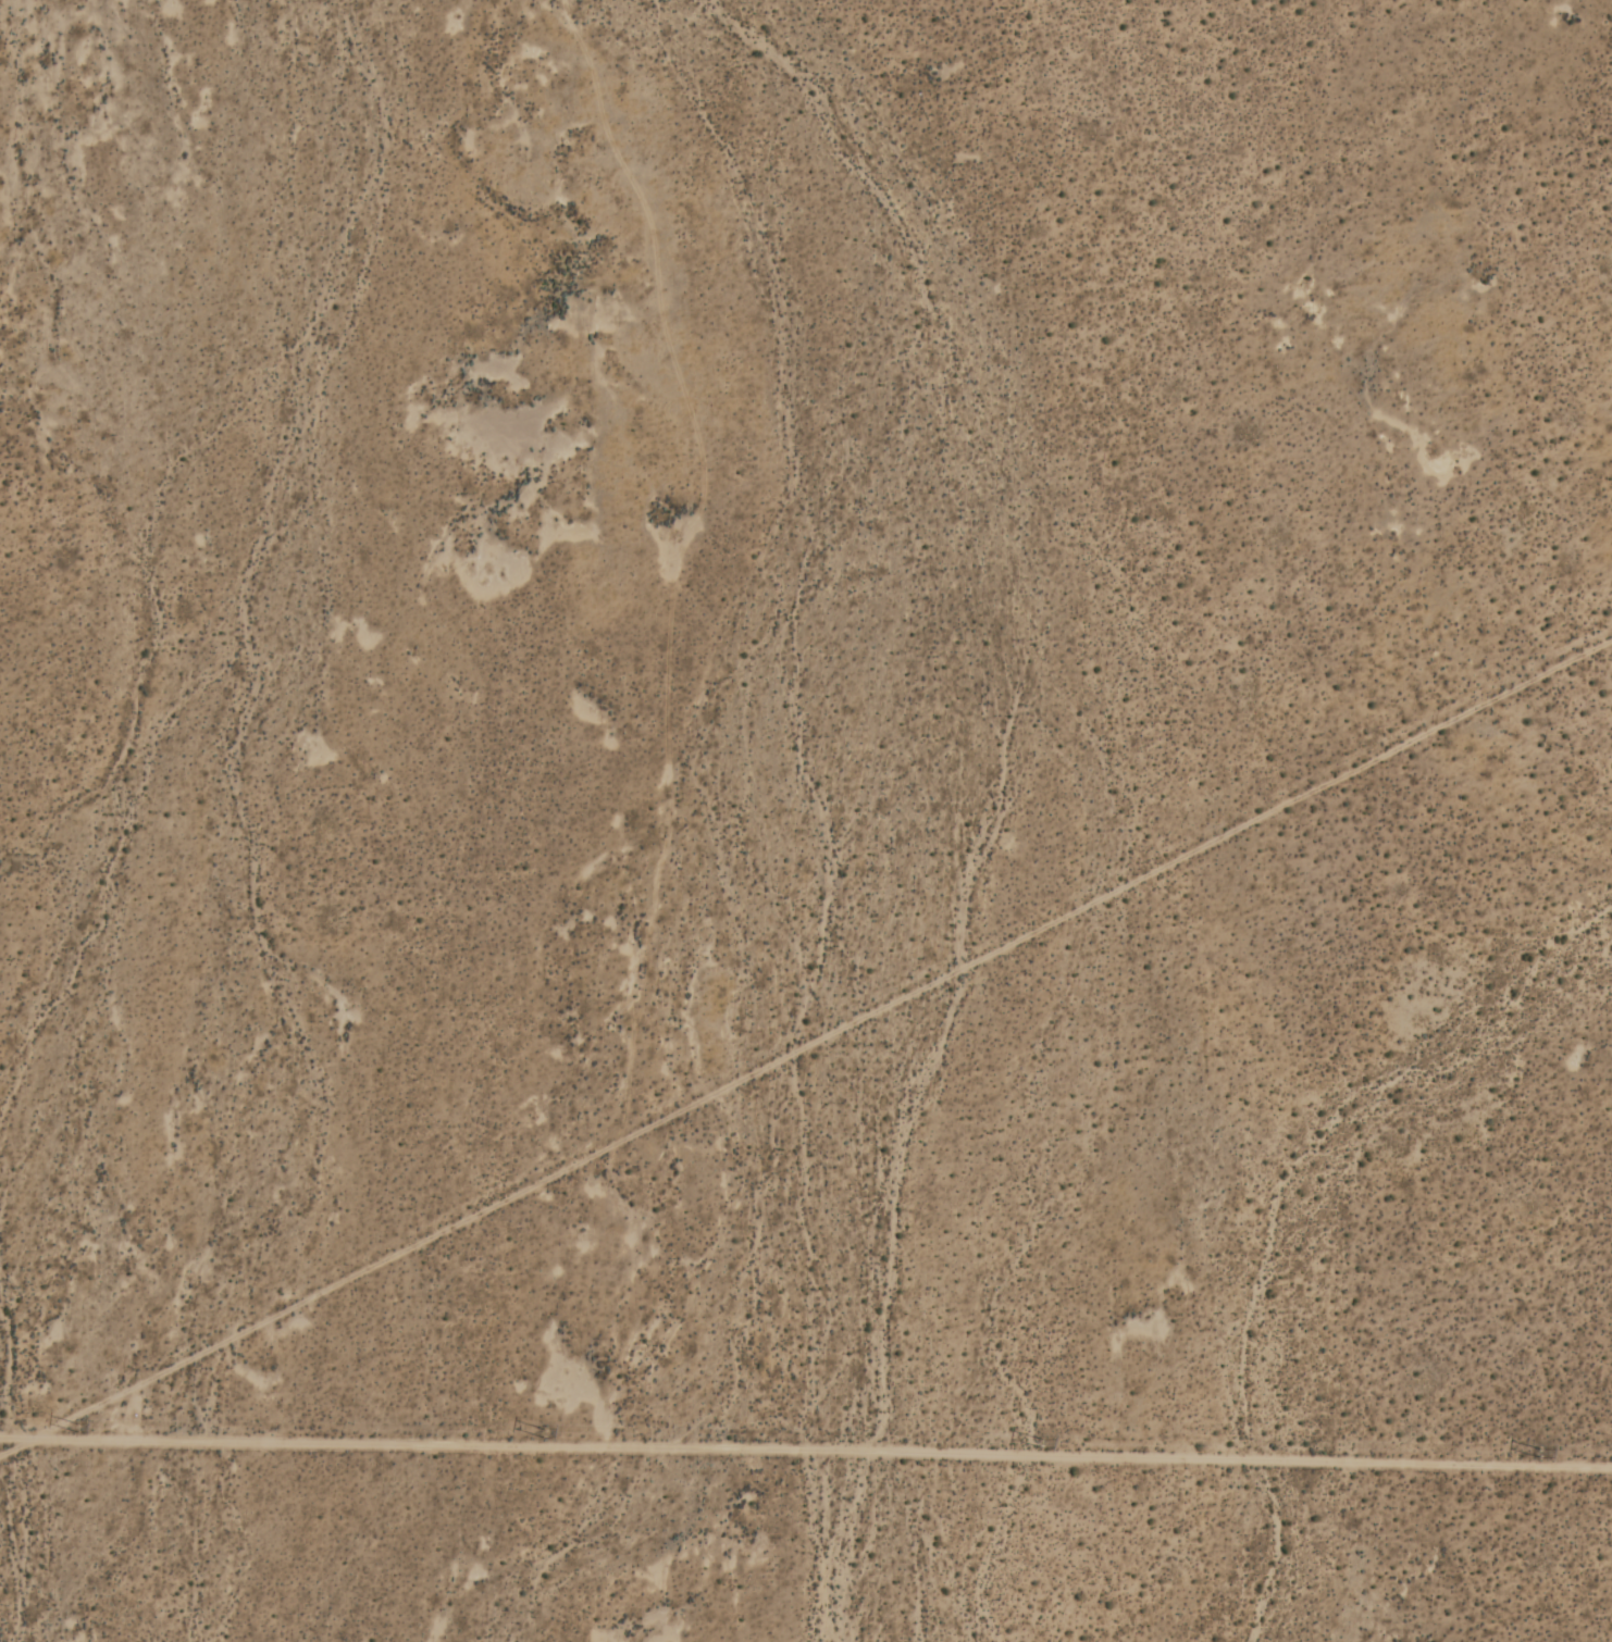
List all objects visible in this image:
power tower: (82, 1429)
power tower: (545, 1430)
power tower: (1040, 1444)
power tower: (1539, 1454)

